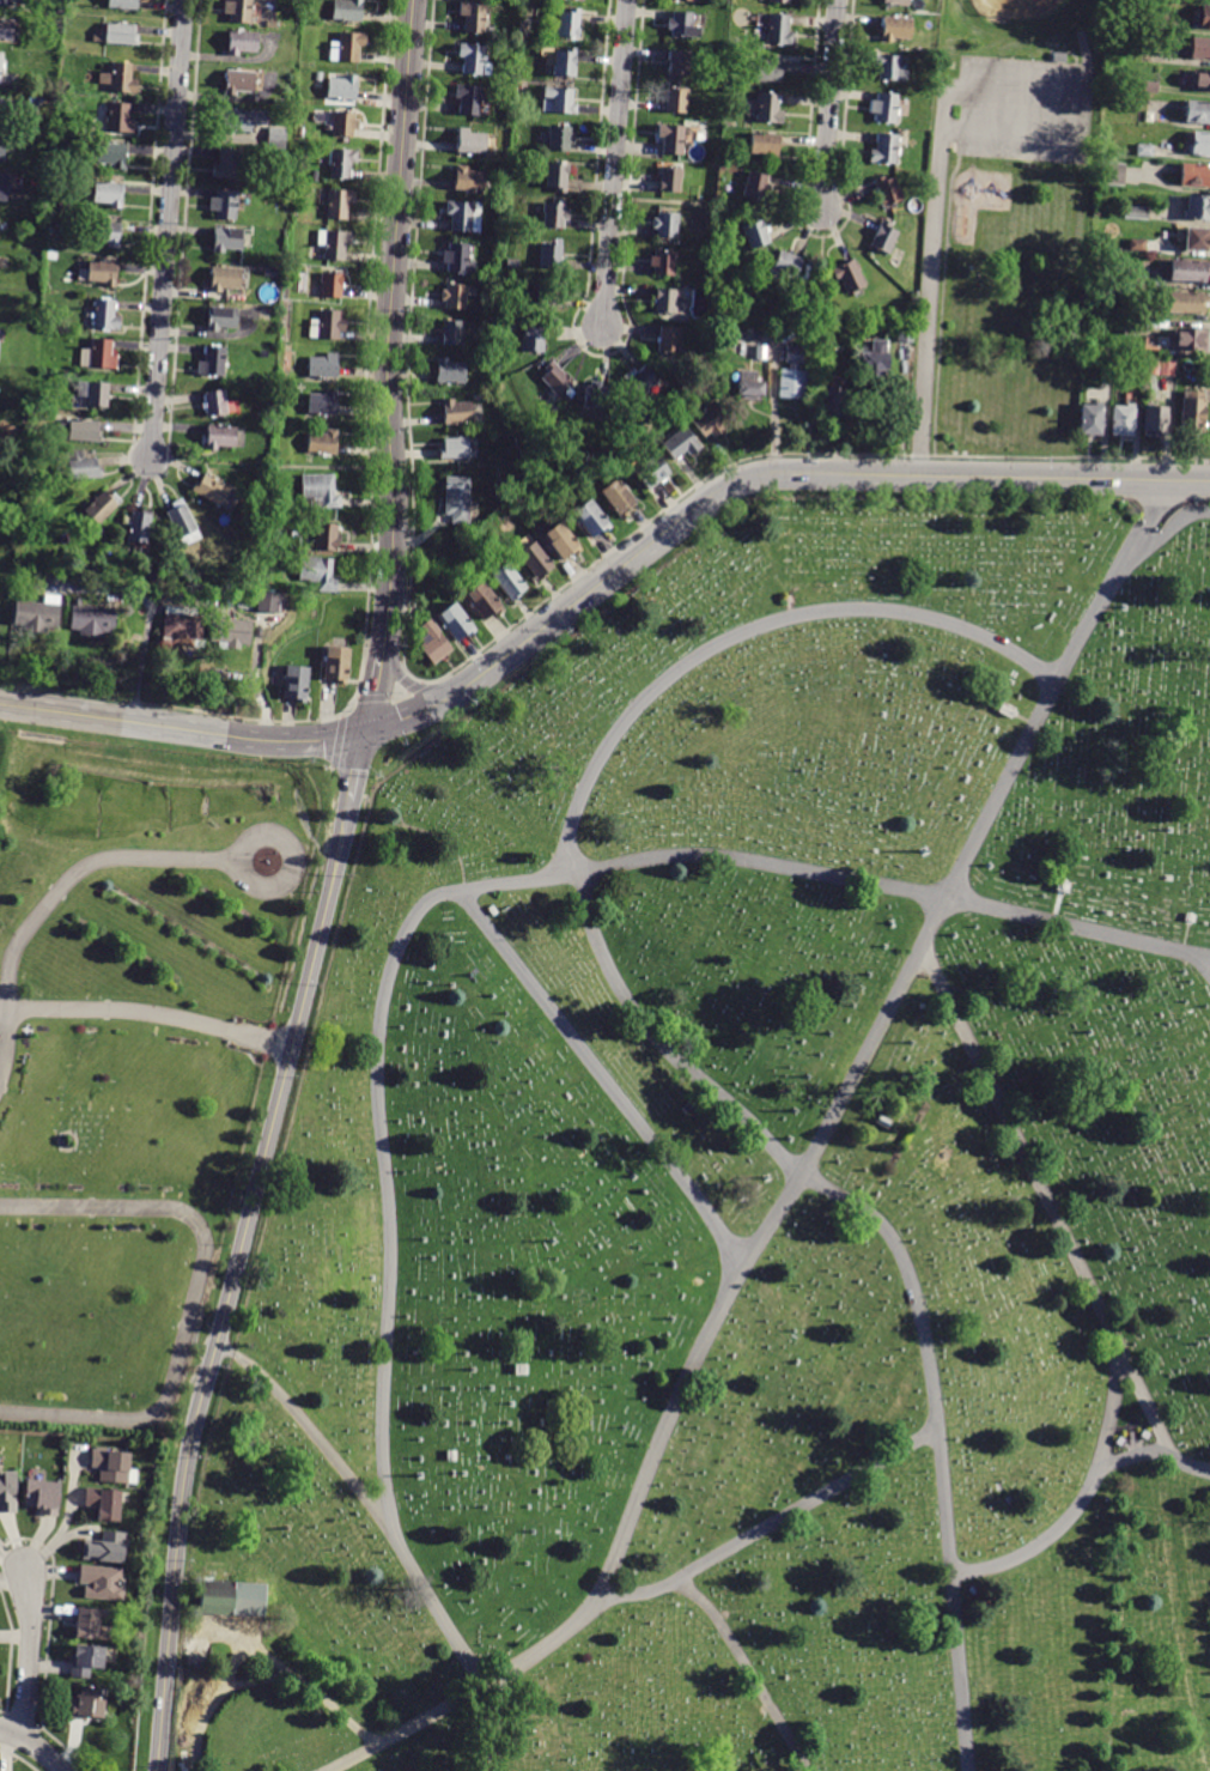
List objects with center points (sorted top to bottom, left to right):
building: (683, 0)
building: (4, 1)
building: (779, 1)
building: (895, 1)
building: (123, 5)
building: (237, 11)
building: (346, 11)
park: (1044, 14)
building: (473, 17)
building: (1204, 17)
building: (270, 24)
building: (567, 25)
building: (1154, 25)
building: (682, 26)
building: (7, 30)
building: (779, 30)
building: (895, 30)
building: (116, 35)
building: (523, 35)
building: (241, 42)
building: (345, 48)
building: (1199, 49)
building: (473, 60)
building: (564, 63)
building: (680, 63)
building: (0, 67)
building: (770, 69)
building: (889, 69)
building: (320, 77)
building: (121, 78)
building: (1202, 80)
building: (237, 83)
building: (1149, 86)
building: (341, 89)
building: (468, 99)
building: (558, 101)
building: (676, 101)
building: (278, 102)
road: (1074, 102)
road: (828, 107)
building: (4, 108)
building: (768, 108)
building: (884, 108)
building: (1197, 111)
building: (121, 117)
building: (239, 120)
building: (342, 125)
building: (50, 126)
building: (275, 138)
building: (559, 139)
building: (671, 139)
building: (470, 142)
building: (1199, 144)
building: (764, 145)
building: (2, 150)
building: (884, 150)
building: (1144, 151)
building: (114, 156)
building: (340, 162)
road: (615, 163)
building: (225, 165)
building: (724, 165)
building: (1112, 174)
building: (1194, 175)
building: (315, 176)
building: (555, 177)
building: (468, 180)
building: (670, 180)
building: (2, 186)
building: (755, 186)
building: (887, 192)
building: (108, 194)
building: (338, 202)
building: (223, 205)
building: (1197, 207)
building: (1135, 213)
building: (554, 216)
building: (463, 218)
building: (665, 224)
building: (0, 226)
road: (166, 229)
building: (104, 232)
building: (871, 232)
building: (755, 233)
building: (1003, 235)
building: (884, 237)
building: (227, 239)
building: (1192, 239)
building: (335, 244)
building: (1137, 244)
building: (551, 257)
building: (458, 260)
building: (4, 261)
building: (663, 262)
building: (511, 263)
building: (1095, 266)
building: (782, 267)
building: (1188, 269)
building: (275, 271)
building: (101, 273)
building: (847, 277)
building: (221, 279)
building: (329, 284)
building: (543, 293)
building: (455, 296)
building: (669, 302)
building: (1188, 302)
building: (797, 311)
road: (930, 313)
building: (104, 314)
building: (221, 319)
road: (390, 319)
building: (326, 325)
building: (1131, 326)
building: (451, 332)
building: (905, 333)
building: (534, 338)
building: (1192, 339)
building: (669, 340)
road: (816, 340)
building: (0, 346)
building: (1096, 353)
building: (101, 354)
building: (213, 362)
building: (871, 362)
building: (322, 365)
building: (1166, 368)
building: (450, 371)
building: (792, 375)
building: (642, 380)
building: (554, 382)
building: (748, 384)
building: (93, 393)
building: (595, 396)
building: (834, 398)
building: (214, 402)
building: (321, 404)
building: (457, 413)
building: (1192, 414)
building: (1090, 419)
building: (1121, 419)
building: (1154, 419)
building: (710, 421)
building: (79, 431)
building: (621, 433)
building: (218, 437)
building: (321, 442)
building: (680, 444)
building: (455, 448)
road: (270, 465)
building: (80, 466)
road: (820, 468)
building: (650, 471)
building: (318, 491)
building: (214, 492)
building: (458, 498)
building: (618, 498)
building: (101, 505)
building: (39, 508)
building: (591, 517)
building: (182, 523)
building: (136, 527)
road: (1166, 529)
building: (326, 536)
building: (561, 541)
building: (534, 560)
building: (318, 572)
building: (509, 582)
building: (484, 601)
building: (267, 602)
road: (148, 613)
building: (36, 615)
building: (92, 620)
building: (455, 621)
building: (183, 626)
building: (231, 632)
building: (434, 643)
road: (381, 644)
building: (336, 665)
road: (402, 675)
building: (987, 679)
road: (468, 680)
building: (294, 684)
road: (412, 685)
road: (373, 692)
road: (397, 692)
road: (371, 696)
road: (345, 704)
building: (1007, 710)
road: (405, 715)
road: (182, 729)
traffic signals: (366, 733)
road: (335, 738)
road: (358, 765)
road: (251, 831)
flagpole: (275, 856)
flagpole: (259, 857)
flagpole: (269, 863)
flagpole: (272, 872)
road: (509, 883)
building: (1062, 886)
road: (951, 897)
road: (53, 898)
building: (1190, 917)
road: (1194, 970)
road: (148, 1013)
road: (659, 1049)
building: (686, 1109)
building: (883, 1122)
park: (659, 1159)
road: (1058, 1220)
road: (231, 1281)
road: (199, 1306)
road: (707, 1336)
building: (519, 1369)
building: (549, 1403)
road: (311, 1424)
road: (1133, 1455)
building: (451, 1456)
building: (113, 1469)
building: (8, 1492)
building: (43, 1497)
road: (1084, 1498)
building: (108, 1506)
road: (65, 1520)
road: (772, 1523)
building: (107, 1552)
building: (102, 1583)
building: (238, 1595)
building: (89, 1627)
road: (455, 1640)
road: (29, 1654)
building: (87, 1661)
road: (748, 1668)
road: (272, 1685)
building: (87, 1704)
road: (34, 1746)
road: (359, 1757)

